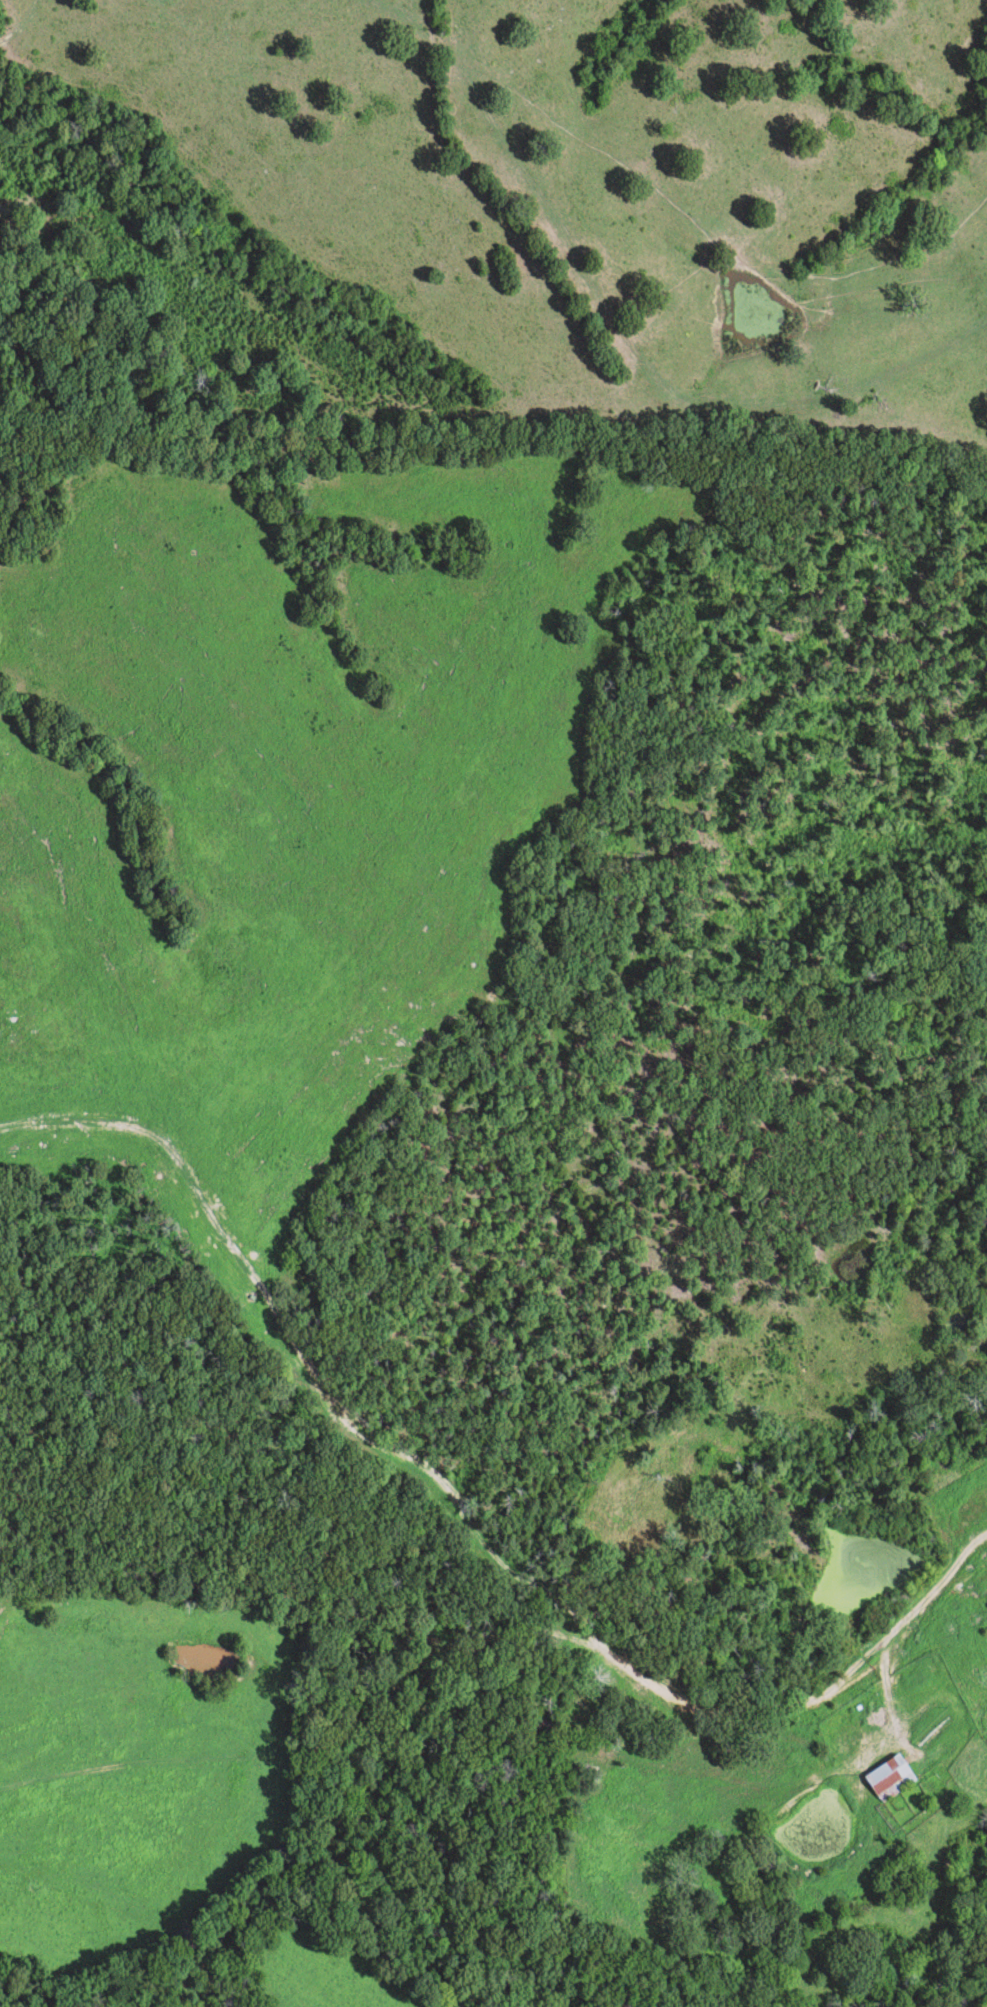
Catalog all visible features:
building: (898, 1777)

